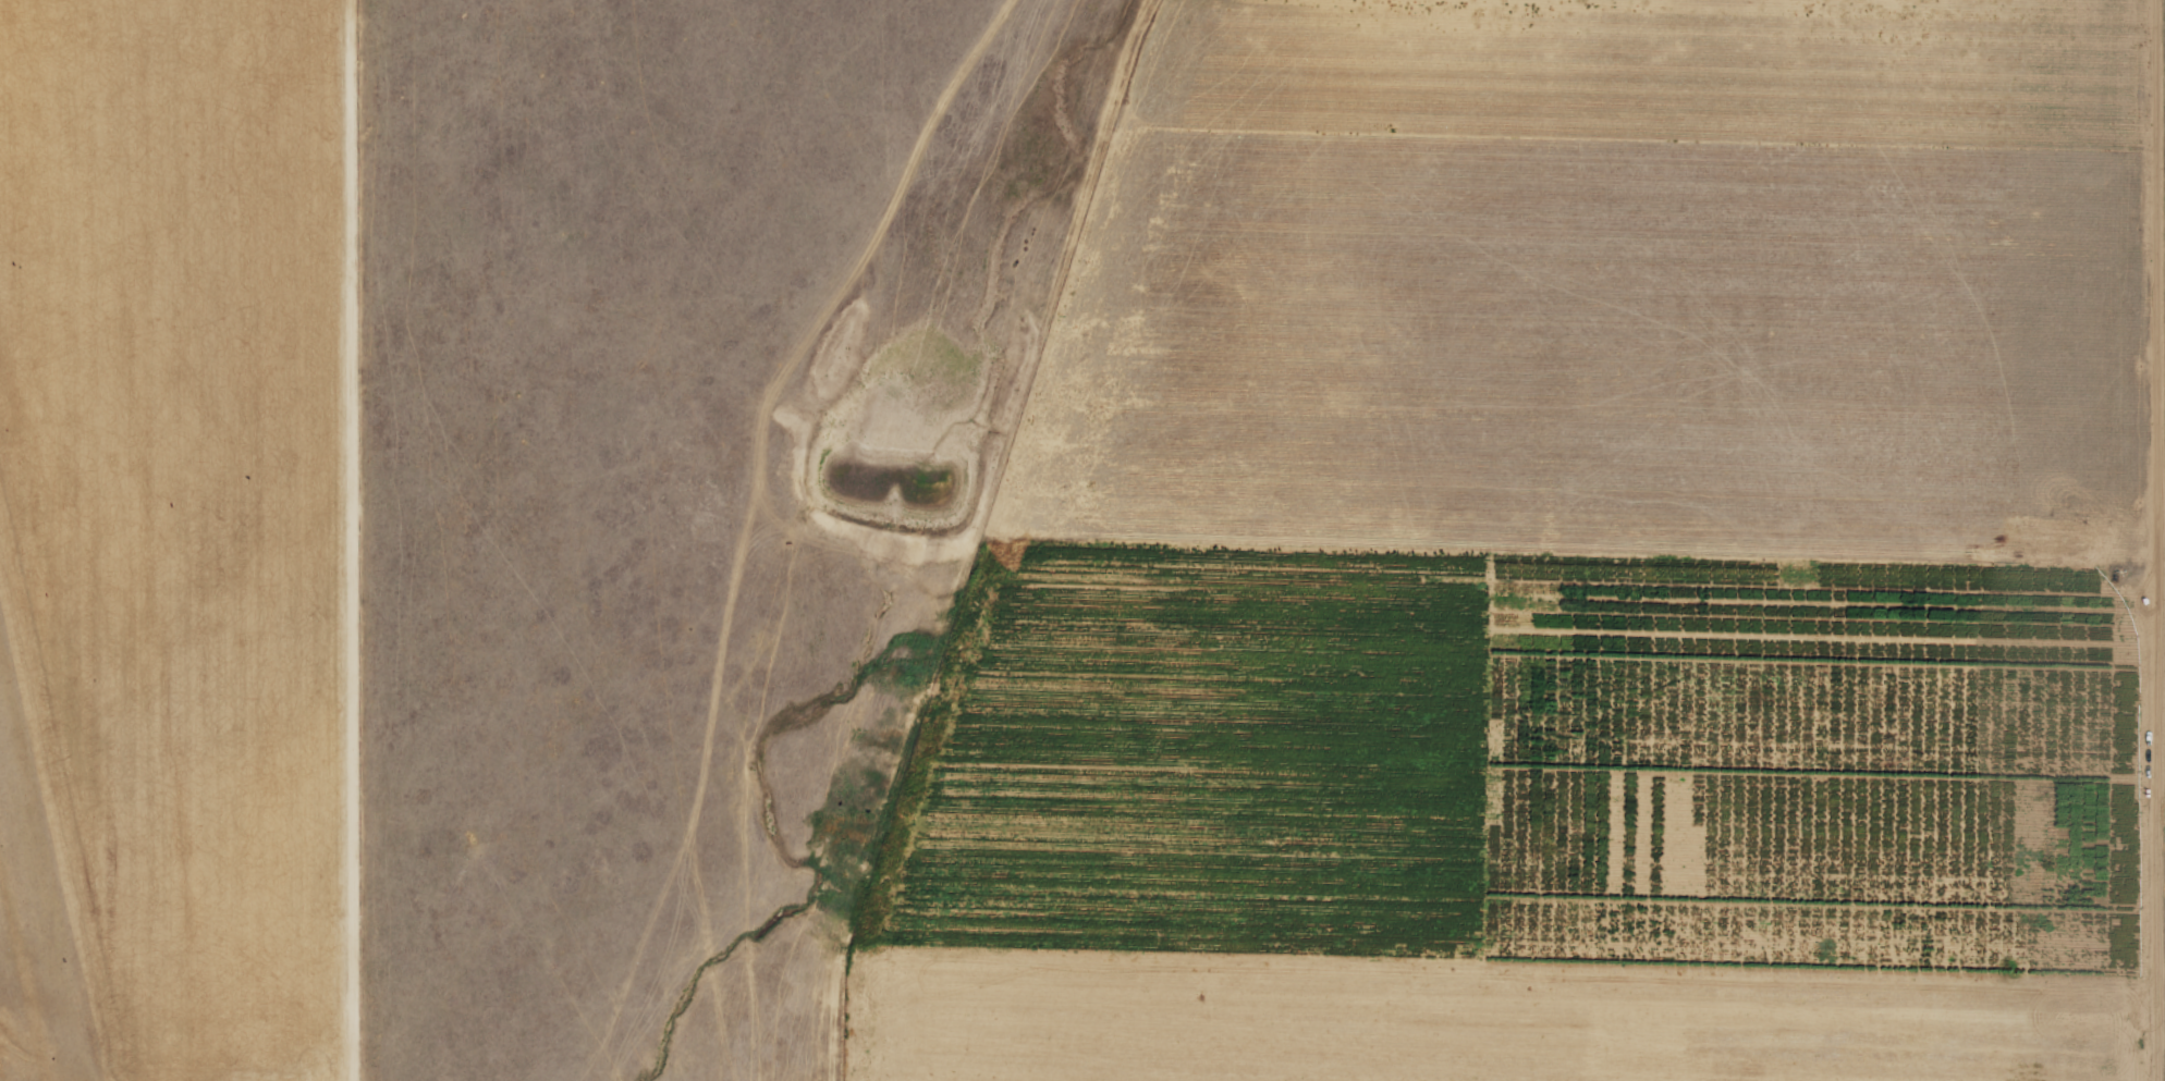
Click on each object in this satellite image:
road: (2156, 540)

